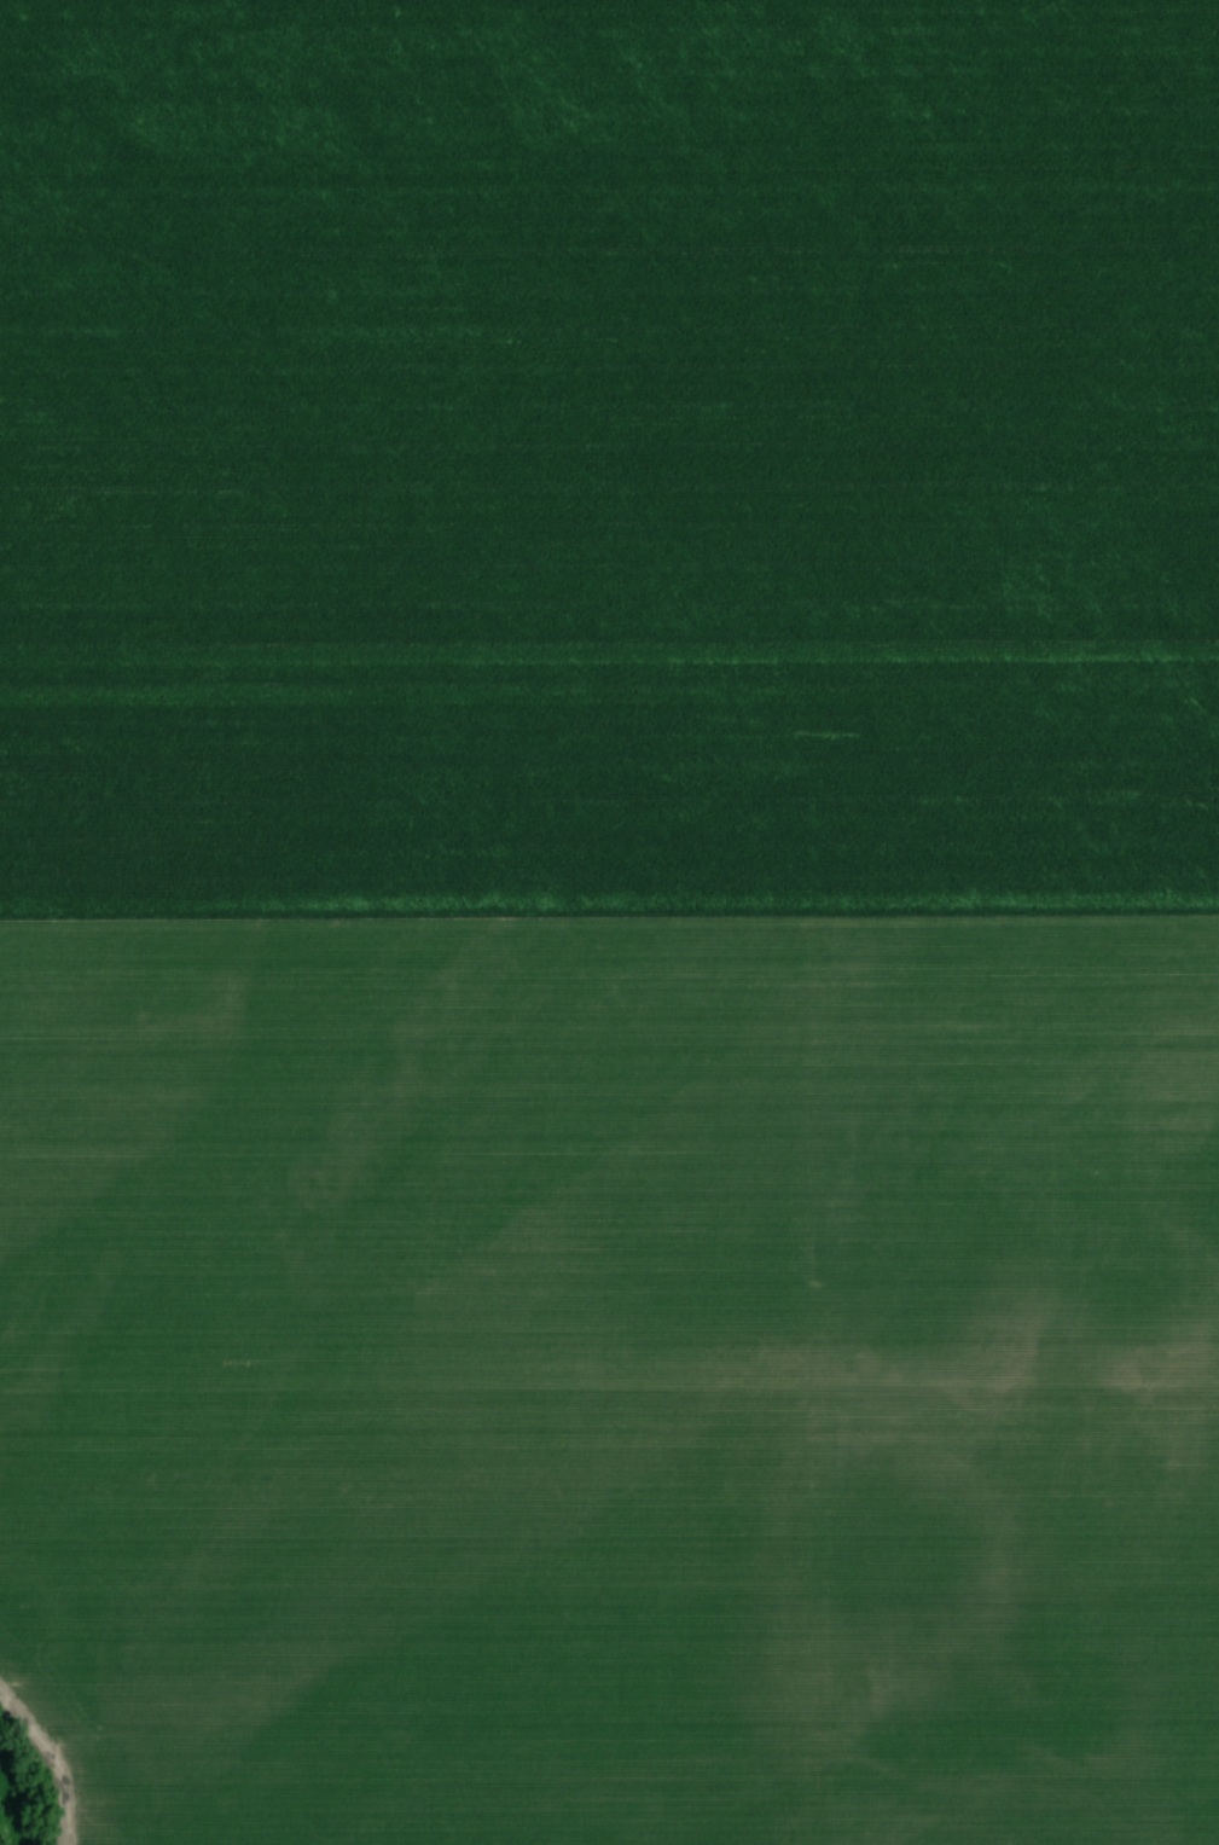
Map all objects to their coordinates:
crop: (611, 918)
crop: (28, 1793)

